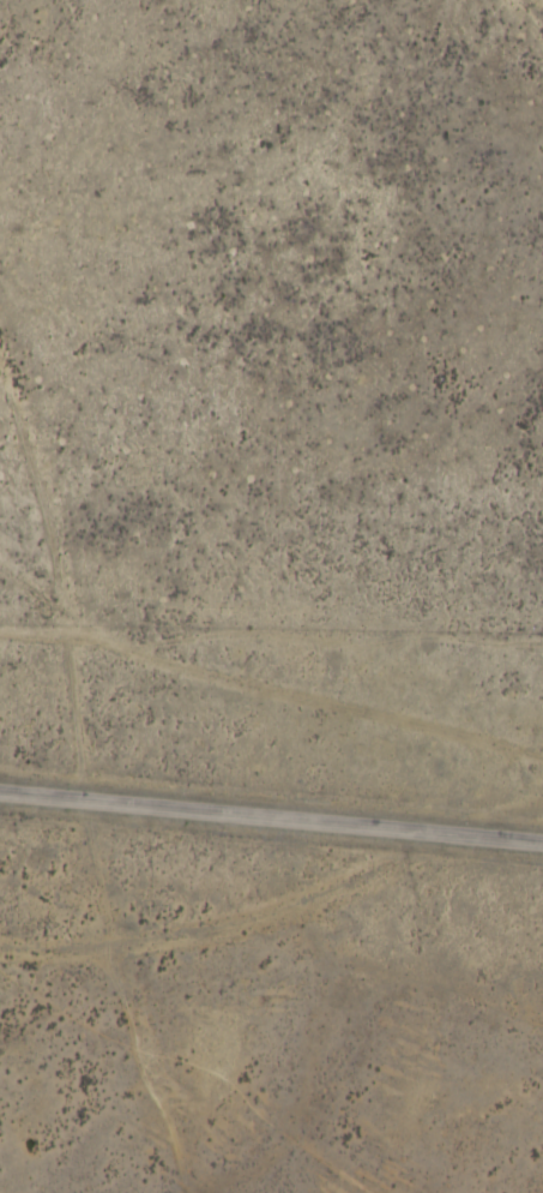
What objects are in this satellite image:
road: (533, 7)
road: (147, 370)
road: (59, 594)
road: (271, 815)
road: (52, 951)
road: (107, 994)

